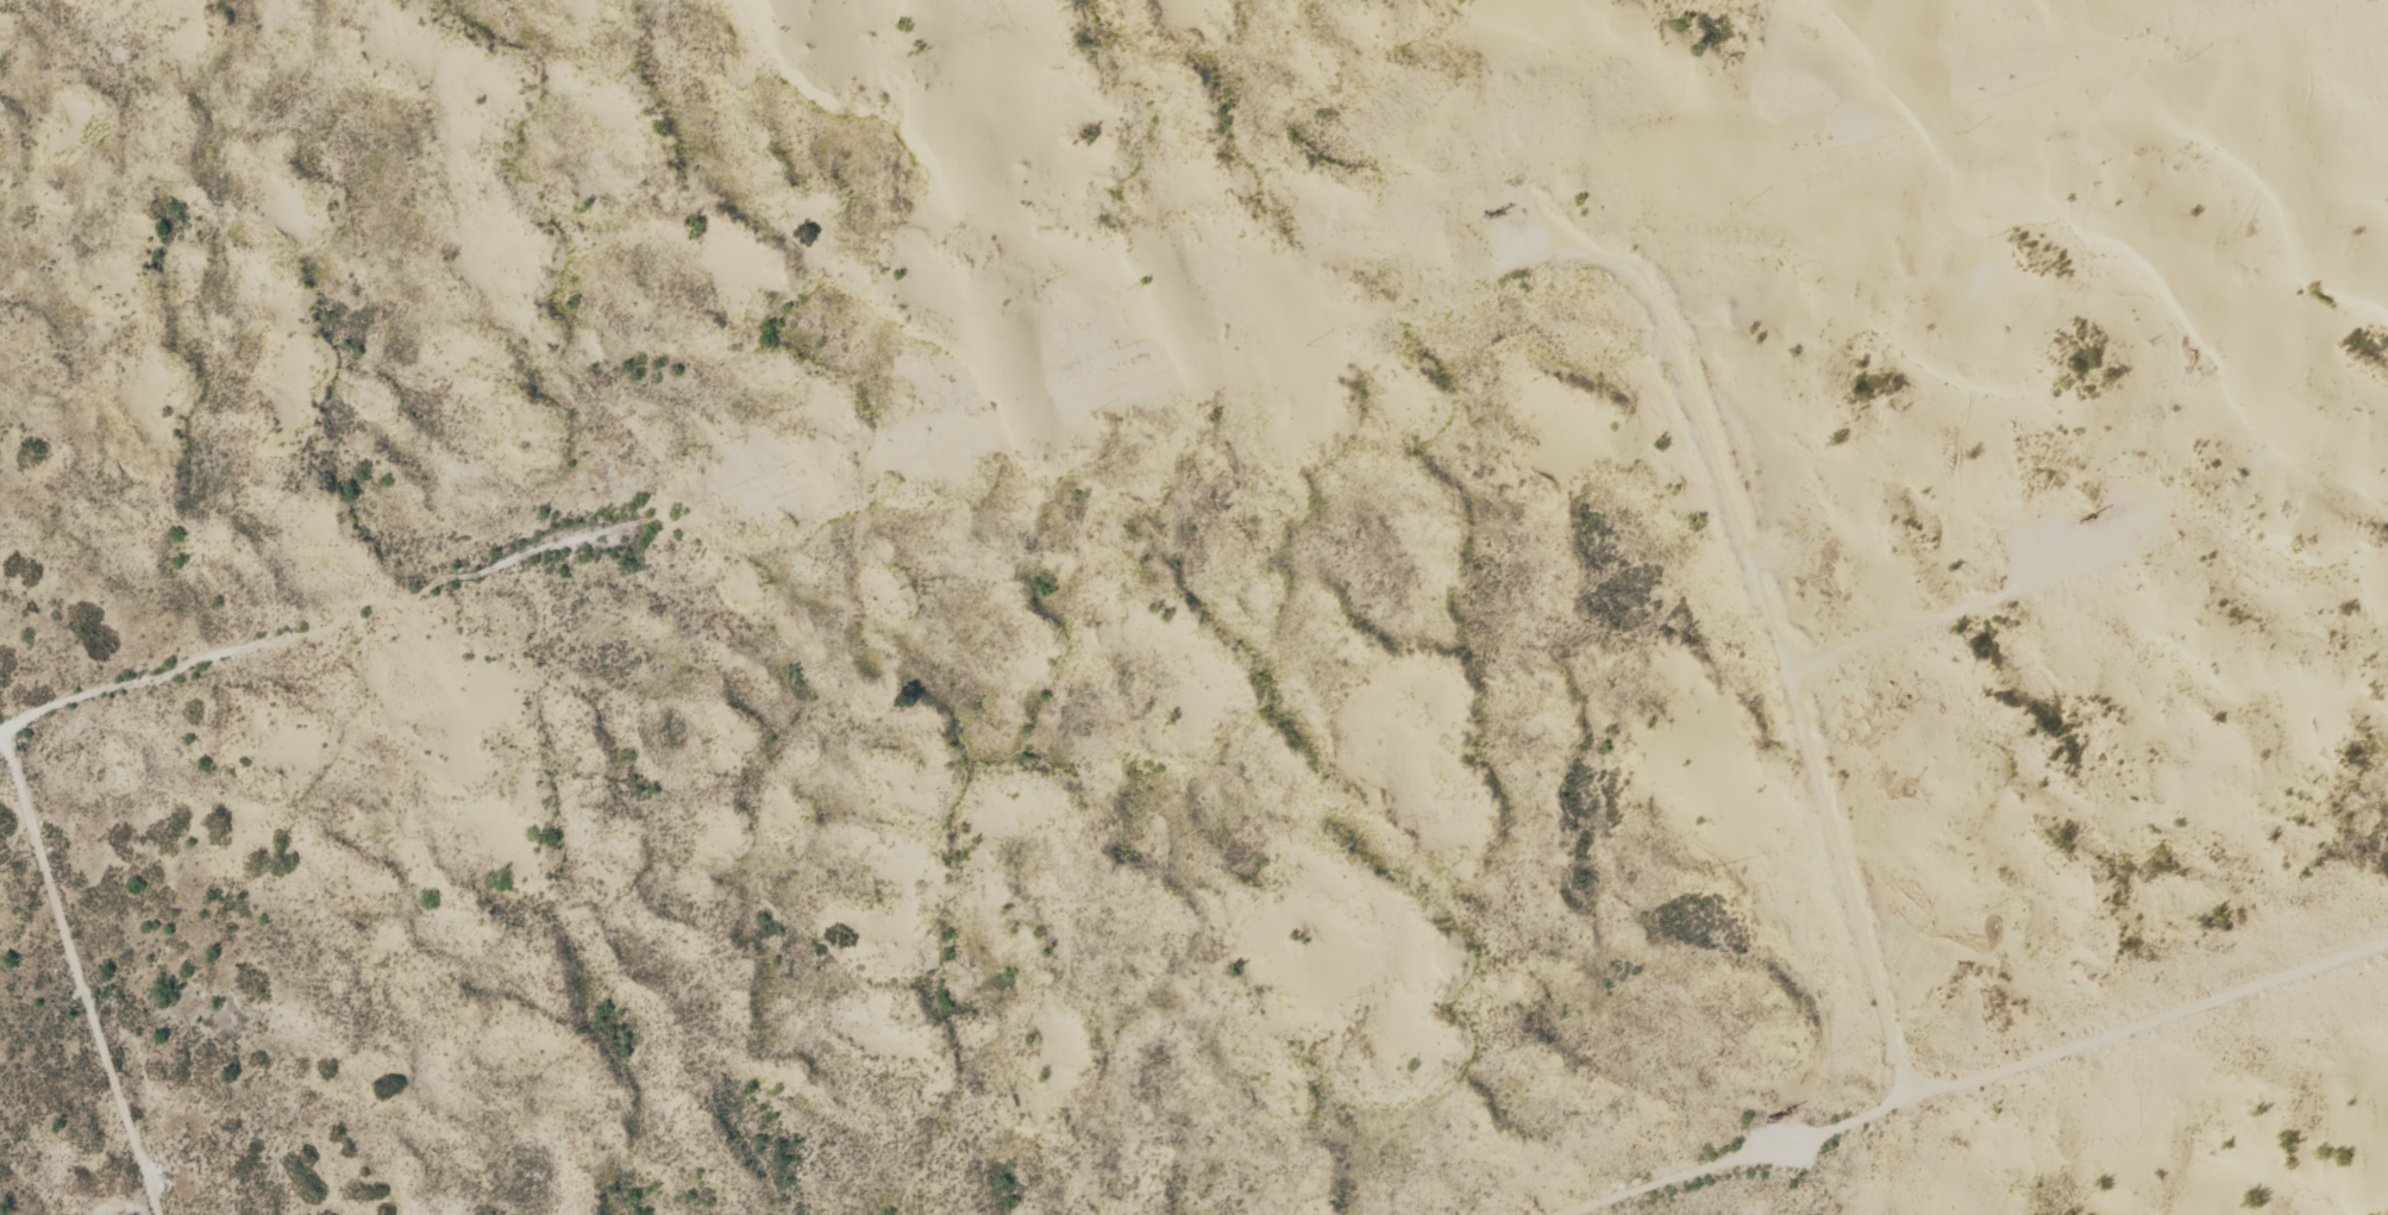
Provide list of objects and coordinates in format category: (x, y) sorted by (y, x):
road: (226, 674)
road: (86, 985)

